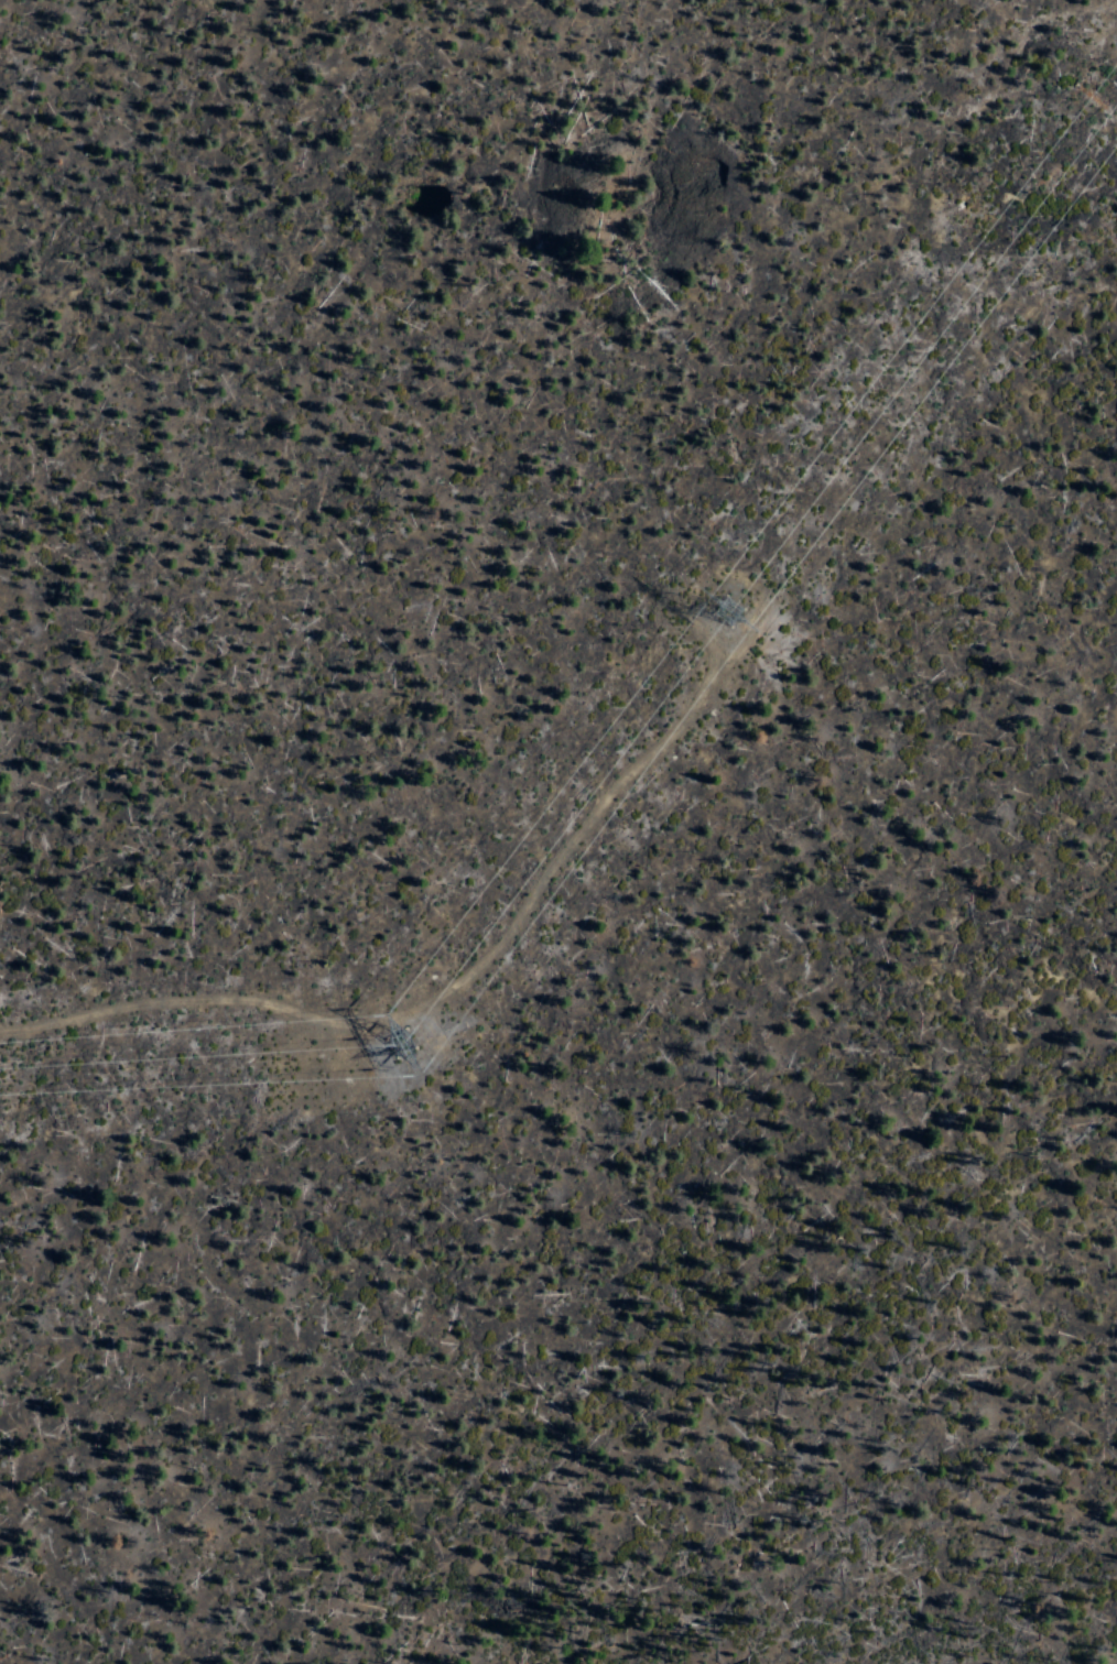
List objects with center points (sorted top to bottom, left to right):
power tower: (729, 605)
power tower: (406, 1026)

